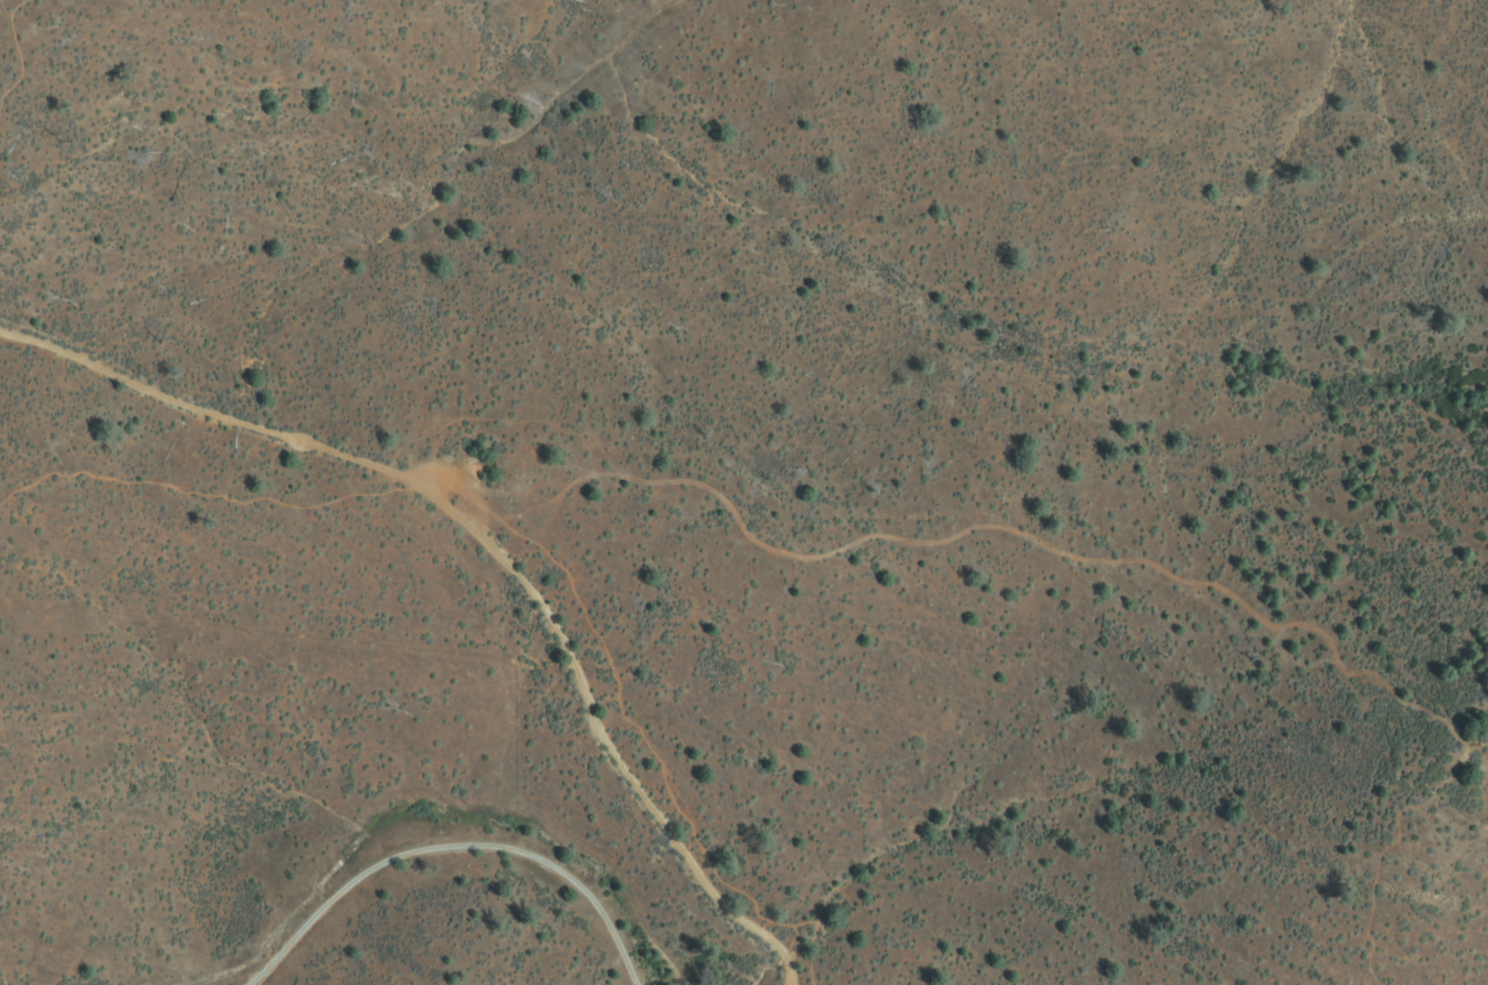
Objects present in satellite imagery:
road: (12, 56)
road: (497, 540)
road: (461, 853)

